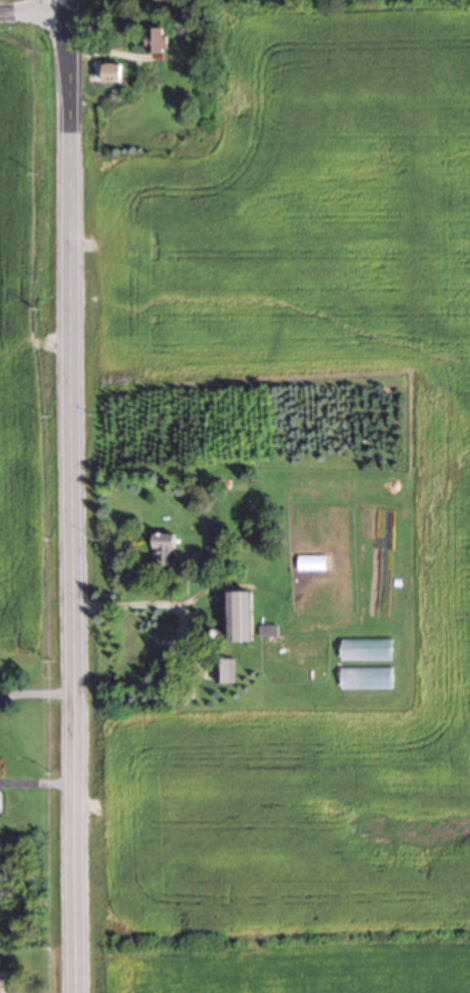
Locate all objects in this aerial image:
road: (29, 8)
building: (156, 39)
building: (114, 72)
road: (67, 496)
building: (164, 548)
road: (128, 602)
building: (239, 614)
building: (267, 629)
building: (225, 670)
road: (34, 692)
road: (35, 783)
building: (1, 802)
building: (0, 975)

